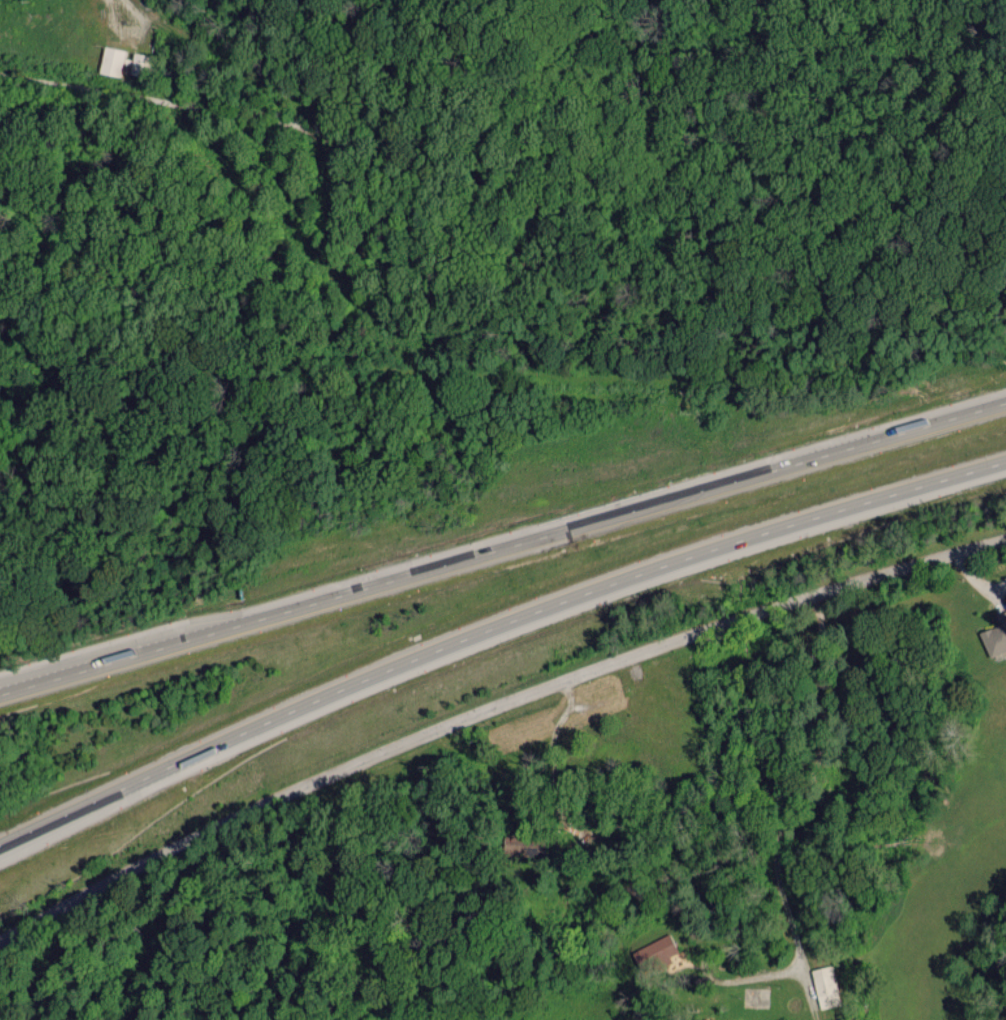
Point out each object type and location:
building: (113, 58)
road: (315, 139)
road: (503, 547)
road: (493, 630)
building: (994, 636)
road: (489, 713)
road: (789, 815)
building: (653, 952)
building: (826, 986)

